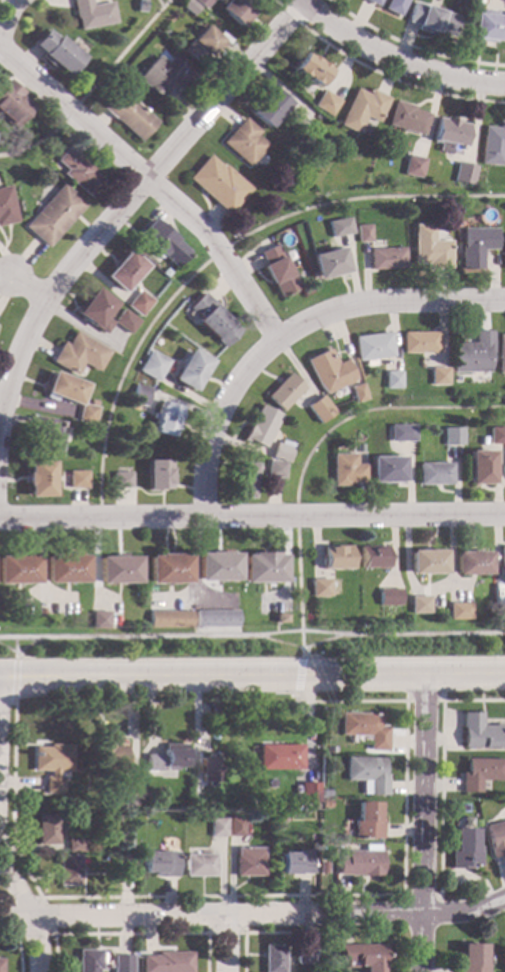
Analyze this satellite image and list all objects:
building: (373, 2)
road: (157, 3)
building: (203, 3)
road: (276, 3)
building: (395, 6)
building: (190, 7)
building: (237, 10)
road: (5, 14)
building: (91, 14)
road: (289, 15)
building: (432, 20)
building: (488, 27)
building: (202, 46)
road: (412, 46)
building: (56, 53)
road: (395, 57)
building: (311, 70)
building: (165, 77)
road: (395, 80)
road: (91, 88)
road: (223, 89)
building: (326, 104)
building: (13, 105)
building: (269, 108)
building: (363, 110)
building: (129, 117)
building: (408, 119)
building: (450, 136)
building: (244, 143)
building: (493, 146)
building: (415, 166)
building: (79, 173)
building: (464, 175)
building: (218, 185)
building: (6, 208)
building: (53, 216)
building: (339, 228)
building: (362, 235)
road: (97, 238)
building: (162, 243)
building: (473, 247)
building: (428, 249)
building: (503, 251)
road: (215, 253)
building: (385, 259)
building: (328, 264)
road: (230, 270)
building: (124, 271)
building: (277, 272)
building: (139, 304)
building: (95, 312)
building: (213, 321)
building: (126, 322)
road: (32, 339)
building: (419, 343)
building: (372, 347)
building: (472, 354)
building: (77, 355)
building: (148, 355)
building: (500, 355)
building: (155, 368)
building: (191, 371)
building: (329, 372)
building: (438, 377)
building: (391, 380)
building: (62, 390)
building: (284, 393)
building: (357, 394)
building: (140, 396)
road: (373, 409)
building: (319, 410)
building: (86, 414)
road: (216, 419)
building: (165, 420)
building: (261, 427)
building: (402, 434)
building: (496, 436)
building: (453, 437)
building: (44, 438)
building: (359, 449)
building: (282, 451)
building: (480, 468)
building: (276, 470)
building: (387, 470)
building: (347, 471)
building: (435, 475)
building: (159, 476)
building: (39, 480)
building: (77, 480)
building: (122, 481)
building: (245, 481)
road: (297, 515)
road: (252, 517)
building: (337, 558)
building: (502, 558)
building: (374, 559)
building: (427, 563)
building: (472, 564)
building: (218, 567)
building: (265, 568)
building: (18, 569)
building: (66, 569)
building: (169, 569)
building: (118, 570)
building: (321, 589)
road: (298, 592)
building: (503, 595)
building: (390, 598)
building: (420, 605)
building: (460, 612)
building: (498, 617)
building: (216, 619)
building: (282, 619)
building: (170, 620)
building: (99, 621)
road: (252, 638)
road: (13, 645)
road: (21, 649)
road: (303, 649)
road: (14, 655)
road: (299, 674)
road: (252, 677)
road: (13, 679)
road: (424, 701)
road: (7, 703)
building: (364, 728)
building: (480, 732)
building: (109, 756)
building: (280, 756)
building: (166, 758)
building: (51, 764)
road: (441, 766)
building: (208, 769)
building: (480, 772)
building: (367, 774)
building: (128, 786)
building: (309, 792)
building: (143, 795)
building: (74, 801)
building: (196, 801)
building: (283, 819)
building: (367, 821)
road: (423, 823)
building: (218, 826)
building: (235, 826)
building: (46, 829)
building: (495, 837)
building: (74, 845)
building: (463, 847)
building: (248, 861)
building: (160, 862)
building: (295, 862)
building: (360, 863)
building: (199, 864)
building: (125, 867)
building: (68, 869)
road: (421, 894)
road: (277, 895)
road: (25, 911)
road: (253, 915)
road: (53, 932)
road: (226, 932)
road: (259, 932)
road: (131, 933)
road: (225, 944)
road: (18, 945)
building: (303, 954)
building: (361, 956)
building: (471, 957)
building: (272, 958)
building: (88, 960)
building: (167, 962)
building: (121, 963)
building: (0, 964)

